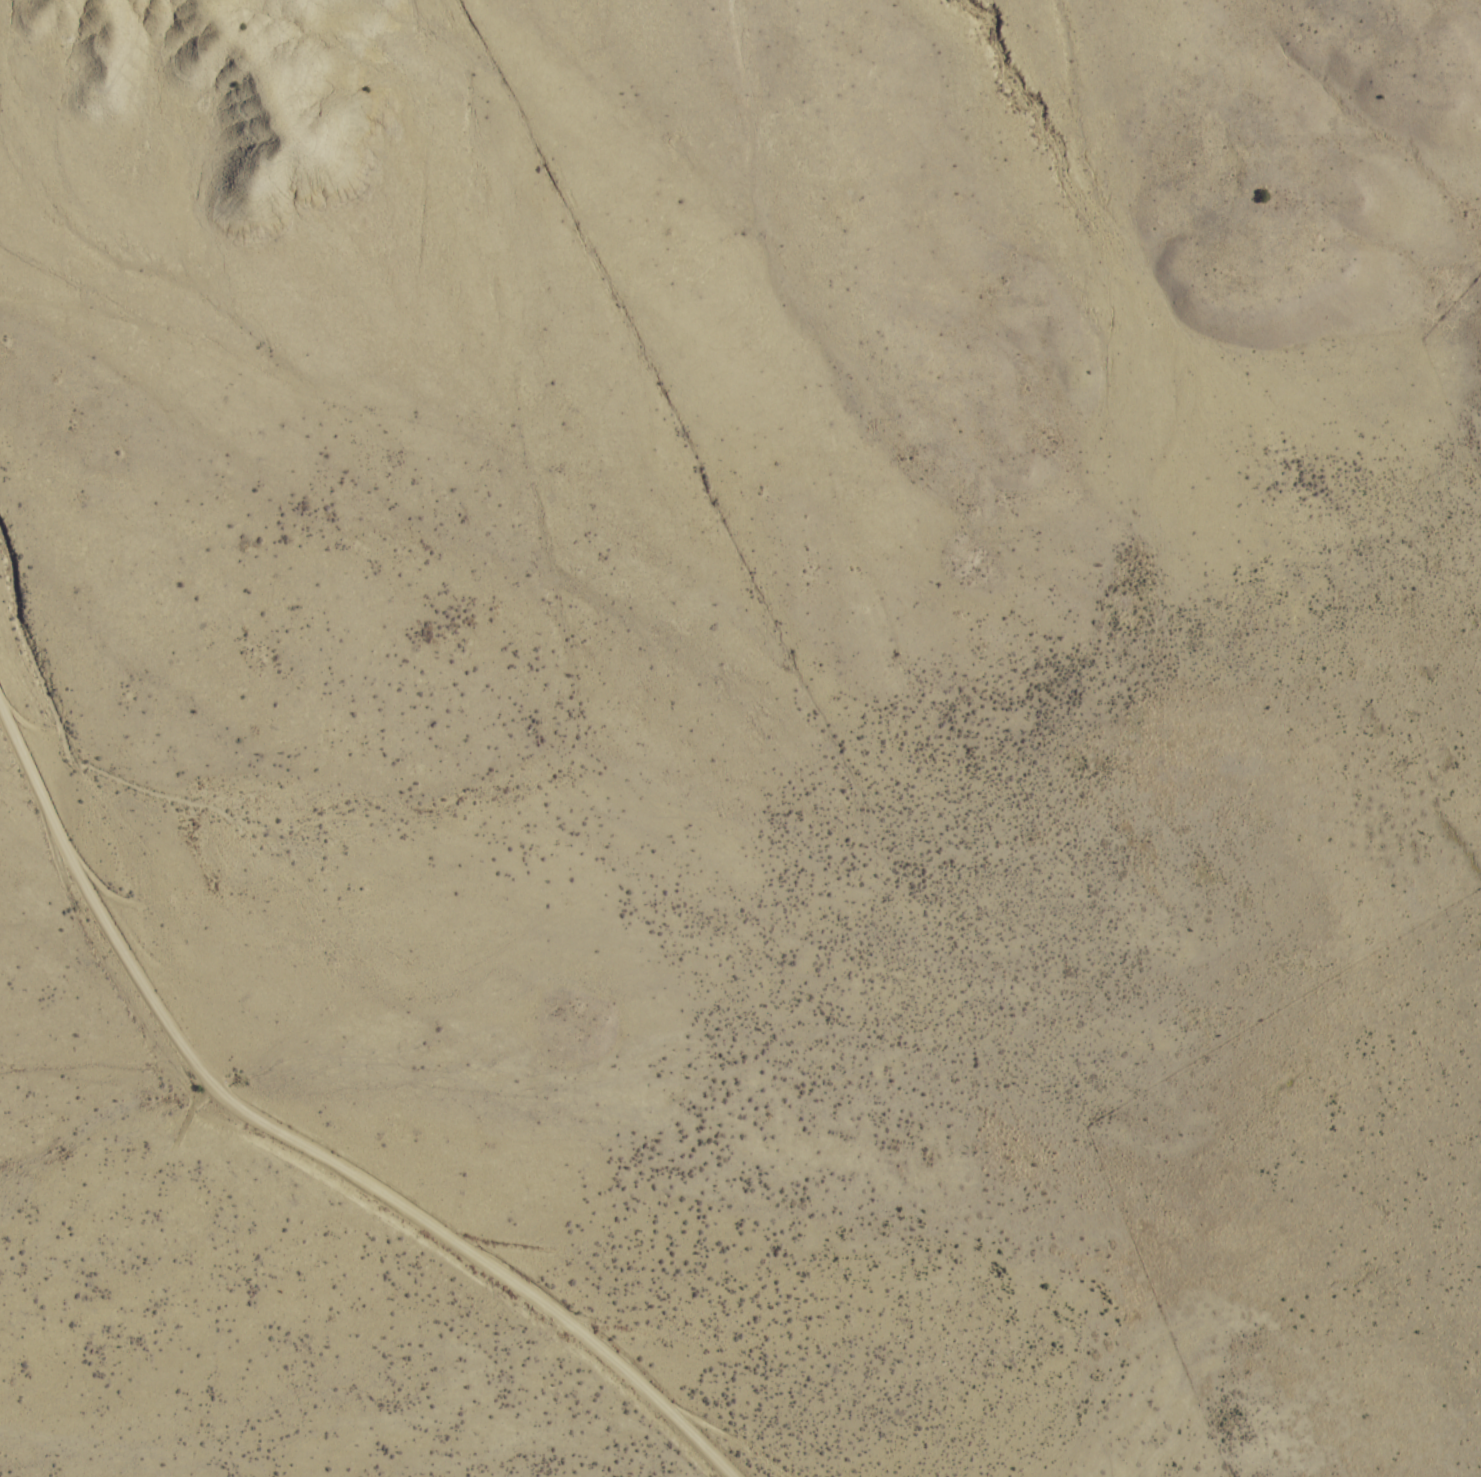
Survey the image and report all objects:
road: (303, 1144)

